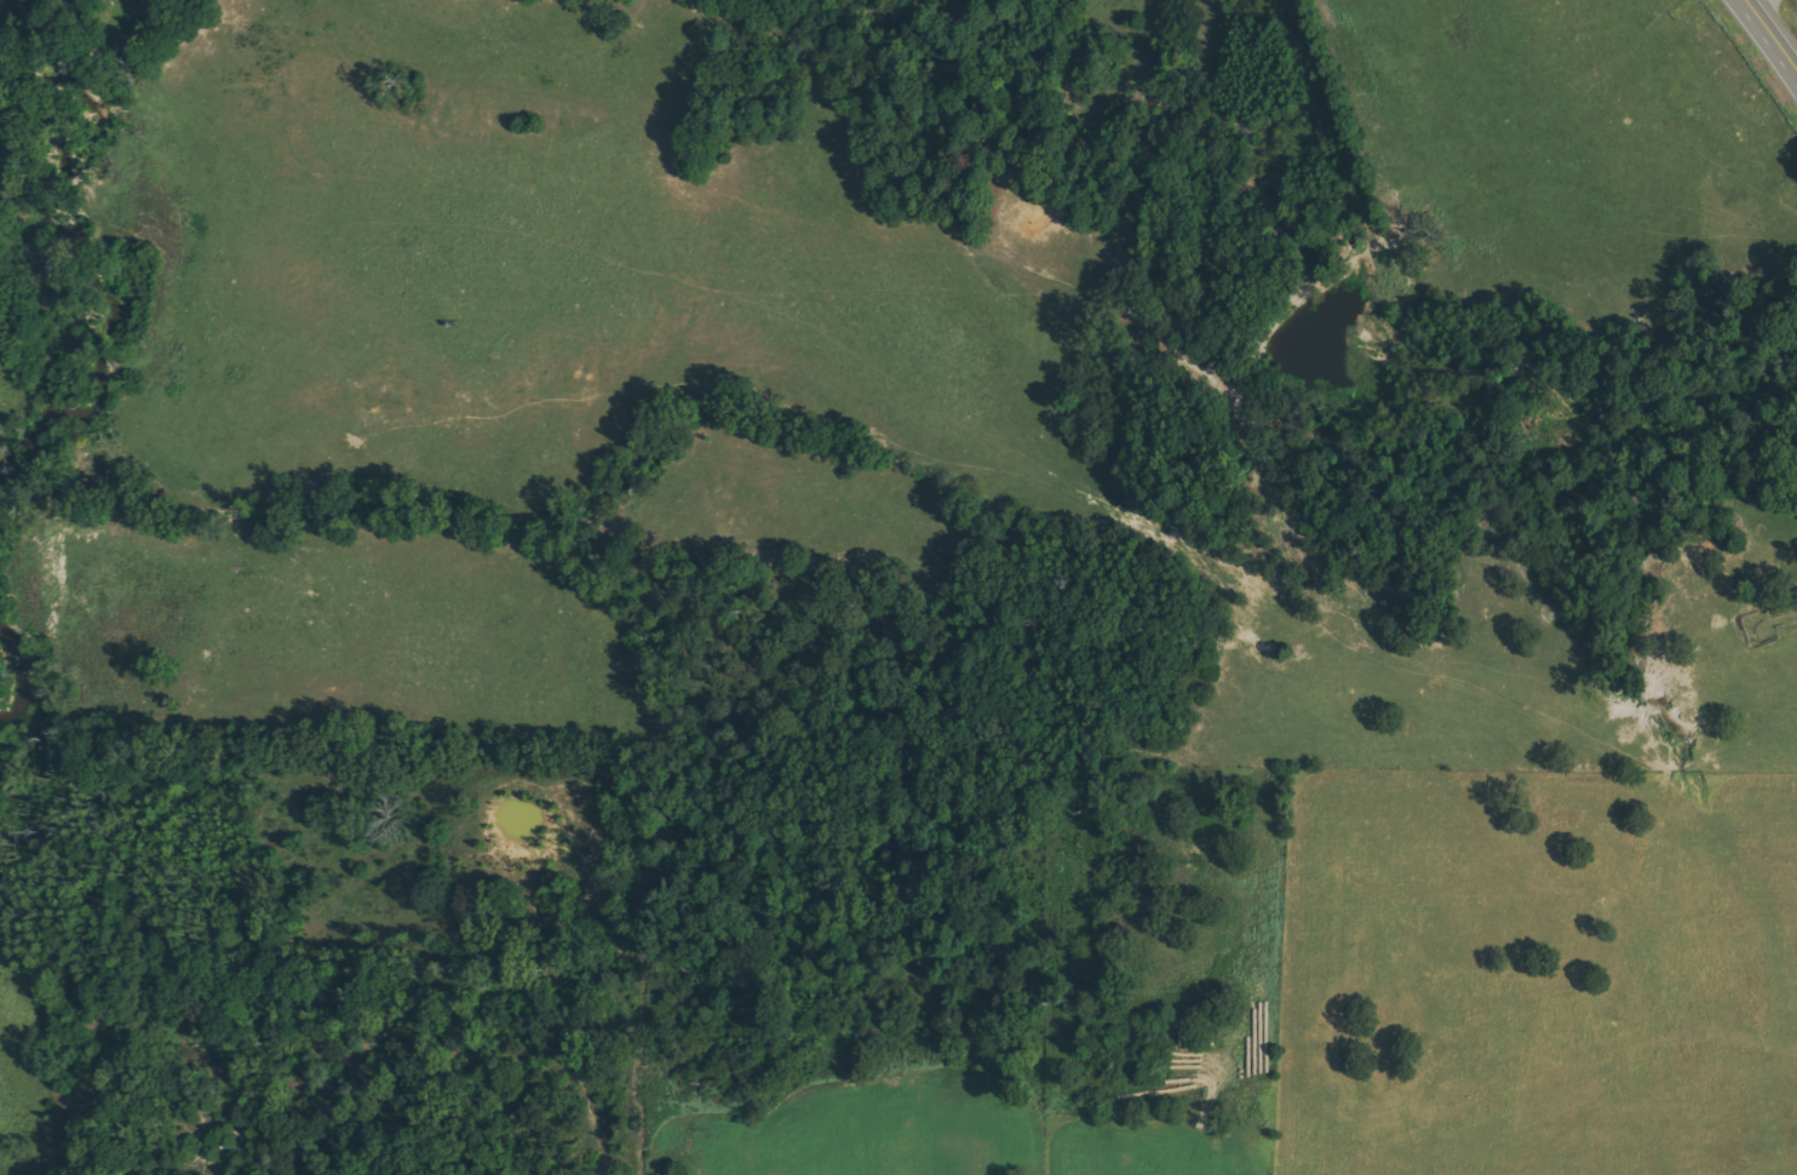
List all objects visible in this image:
road: (1772, 35)

